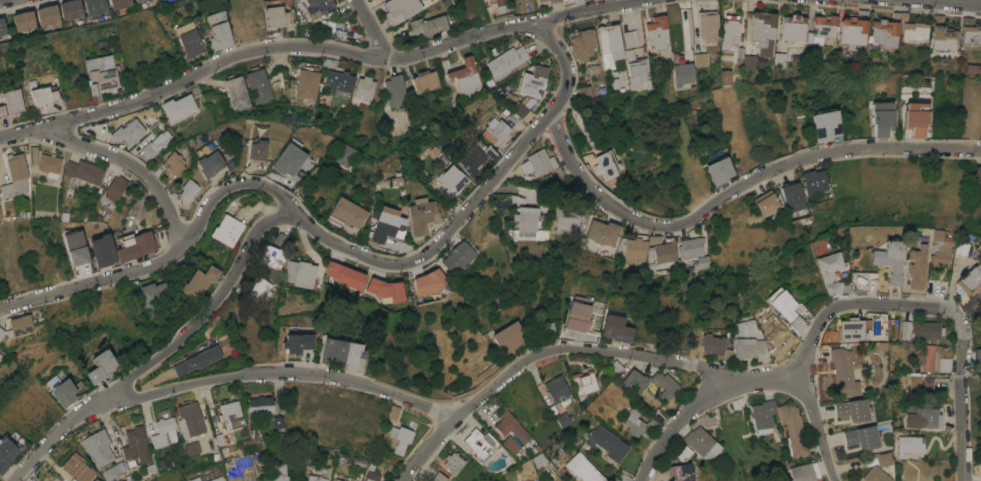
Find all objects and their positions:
building: (139, 0)
building: (540, 0)
building: (496, 1)
building: (552, 1)
road: (954, 1)
building: (119, 3)
building: (444, 3)
building: (94, 7)
building: (317, 7)
building: (70, 9)
building: (400, 9)
building: (501, 10)
building: (47, 15)
building: (275, 16)
building: (24, 21)
building: (428, 24)
building: (326, 25)
building: (708, 26)
building: (2, 27)
building: (793, 27)
road: (374, 28)
building: (822, 29)
building: (218, 30)
building: (763, 31)
building: (852, 31)
building: (914, 31)
building: (656, 32)
building: (730, 32)
building: (884, 32)
building: (971, 34)
building: (0, 37)
building: (628, 37)
building: (944, 38)
building: (191, 44)
building: (582, 44)
building: (608, 44)
road: (315, 47)
building: (701, 59)
building: (778, 59)
building: (506, 60)
building: (750, 62)
building: (444, 64)
building: (635, 69)
building: (102, 71)
building: (684, 74)
building: (465, 75)
building: (729, 77)
building: (615, 80)
building: (532, 81)
building: (336, 82)
building: (425, 82)
building: (305, 84)
building: (258, 85)
building: (364, 87)
building: (395, 90)
building: (583, 92)
building: (235, 94)
building: (42, 95)
building: (13, 100)
building: (521, 105)
building: (178, 107)
building: (2, 111)
building: (883, 118)
building: (916, 119)
building: (399, 122)
building: (825, 125)
building: (496, 129)
building: (127, 131)
building: (155, 143)
building: (257, 150)
building: (344, 154)
building: (439, 154)
building: (33, 155)
building: (475, 158)
building: (288, 159)
road: (512, 159)
building: (536, 162)
building: (174, 164)
building: (208, 164)
building: (607, 164)
building: (49, 165)
road: (129, 165)
building: (84, 171)
building: (720, 171)
building: (15, 176)
building: (452, 180)
building: (815, 182)
building: (977, 182)
building: (115, 187)
building: (188, 189)
road: (735, 189)
building: (794, 197)
building: (767, 202)
building: (348, 212)
building: (422, 216)
building: (0, 217)
road: (201, 217)
building: (570, 221)
building: (527, 222)
building: (387, 224)
building: (228, 230)
building: (603, 232)
building: (936, 236)
building: (135, 246)
building: (692, 247)
building: (103, 250)
building: (635, 252)
building: (666, 252)
building: (271, 256)
building: (458, 256)
building: (940, 256)
building: (890, 260)
building: (703, 262)
building: (917, 267)
building: (331, 269)
building: (271, 273)
building: (303, 273)
building: (830, 273)
building: (351, 278)
building: (971, 280)
building: (862, 281)
building: (200, 282)
building: (428, 282)
building: (259, 290)
building: (386, 290)
building: (155, 296)
road: (887, 306)
building: (785, 309)
building: (800, 312)
building: (979, 312)
building: (577, 316)
road: (206, 317)
building: (20, 325)
building: (546, 328)
building: (616, 328)
building: (853, 328)
building: (905, 330)
building: (925, 330)
building: (1, 332)
building: (577, 335)
building: (509, 337)
building: (748, 340)
building: (297, 342)
building: (713, 344)
building: (341, 352)
building: (0, 355)
building: (977, 355)
building: (930, 357)
building: (197, 360)
building: (101, 366)
building: (615, 367)
building: (843, 373)
building: (634, 381)
building: (584, 383)
building: (665, 385)
building: (558, 391)
building: (63, 393)
road: (402, 399)
building: (259, 406)
building: (231, 414)
building: (763, 414)
building: (562, 419)
building: (924, 419)
building: (190, 420)
building: (634, 421)
road: (679, 421)
building: (278, 422)
building: (793, 429)
building: (499, 431)
building: (163, 432)
road: (736, 436)
building: (399, 437)
building: (859, 437)
building: (477, 442)
building: (608, 442)
building: (702, 442)
building: (909, 445)
building: (135, 447)
building: (192, 448)
road: (428, 448)
building: (6, 453)
building: (99, 453)
building: (683, 454)
building: (883, 459)
building: (539, 460)
building: (453, 462)
building: (77, 467)
building: (240, 468)
building: (583, 468)
building: (272, 472)
building: (680, 472)
building: (803, 472)
building: (318, 473)
building: (875, 475)
building: (210, 476)
building: (438, 477)
building: (555, 477)
building: (195, 479)
building: (338, 479)
building: (368, 479)
building: (95, 480)

